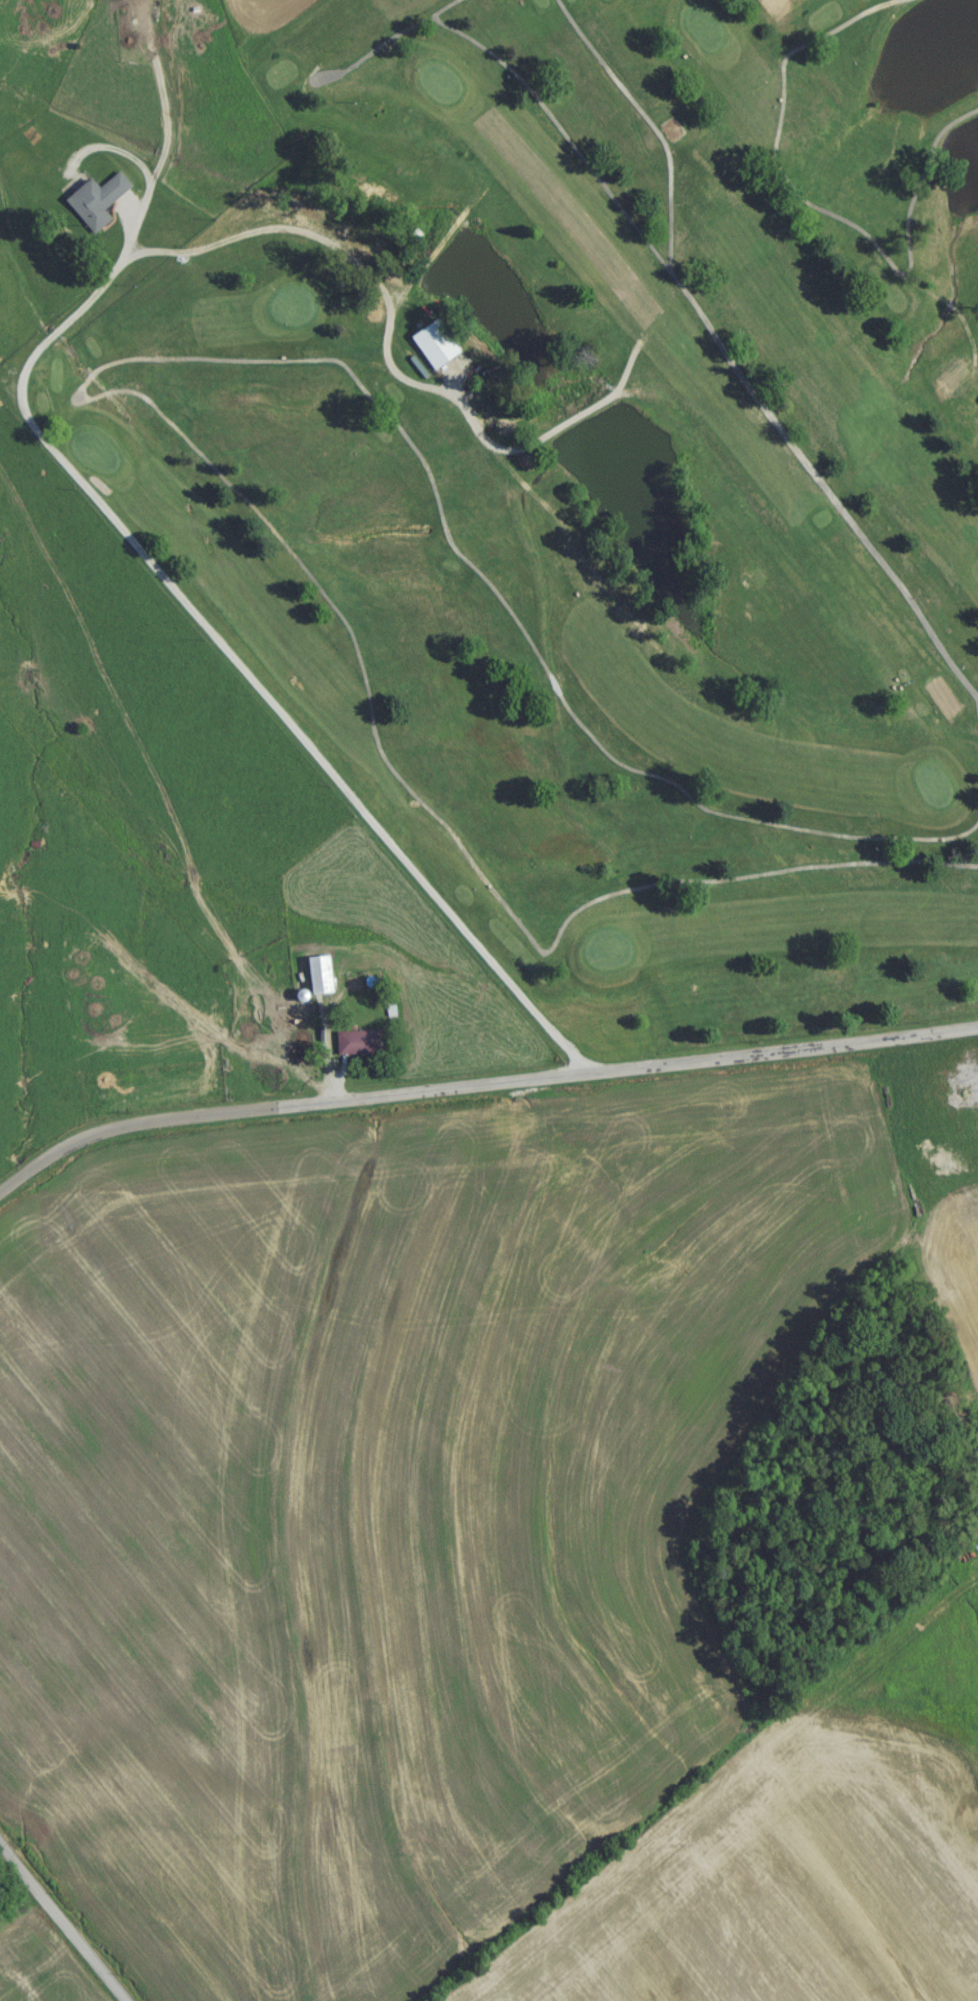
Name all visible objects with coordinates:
building: (113, 1)
road: (405, 35)
road: (312, 86)
road: (167, 125)
road: (647, 126)
building: (95, 206)
road: (814, 213)
building: (431, 349)
road: (717, 350)
park: (549, 484)
road: (535, 656)
road: (233, 670)
road: (977, 716)
road: (409, 795)
building: (462, 800)
building: (318, 980)
building: (296, 1001)
building: (359, 1046)
road: (479, 1091)
road: (60, 1926)

